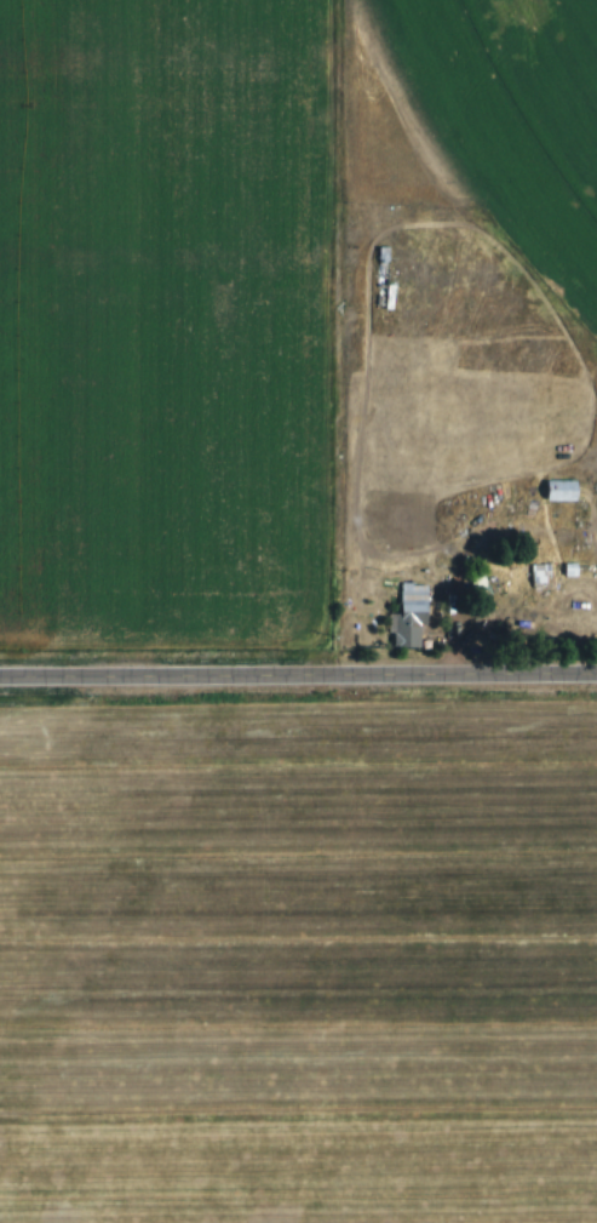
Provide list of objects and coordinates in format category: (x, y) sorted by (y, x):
crop: (490, 114)
crop: (173, 324)
building: (576, 490)
building: (587, 570)
building: (541, 575)
building: (555, 575)
building: (490, 584)
building: (425, 616)
road: (469, 638)
road: (298, 674)
crop: (298, 962)

